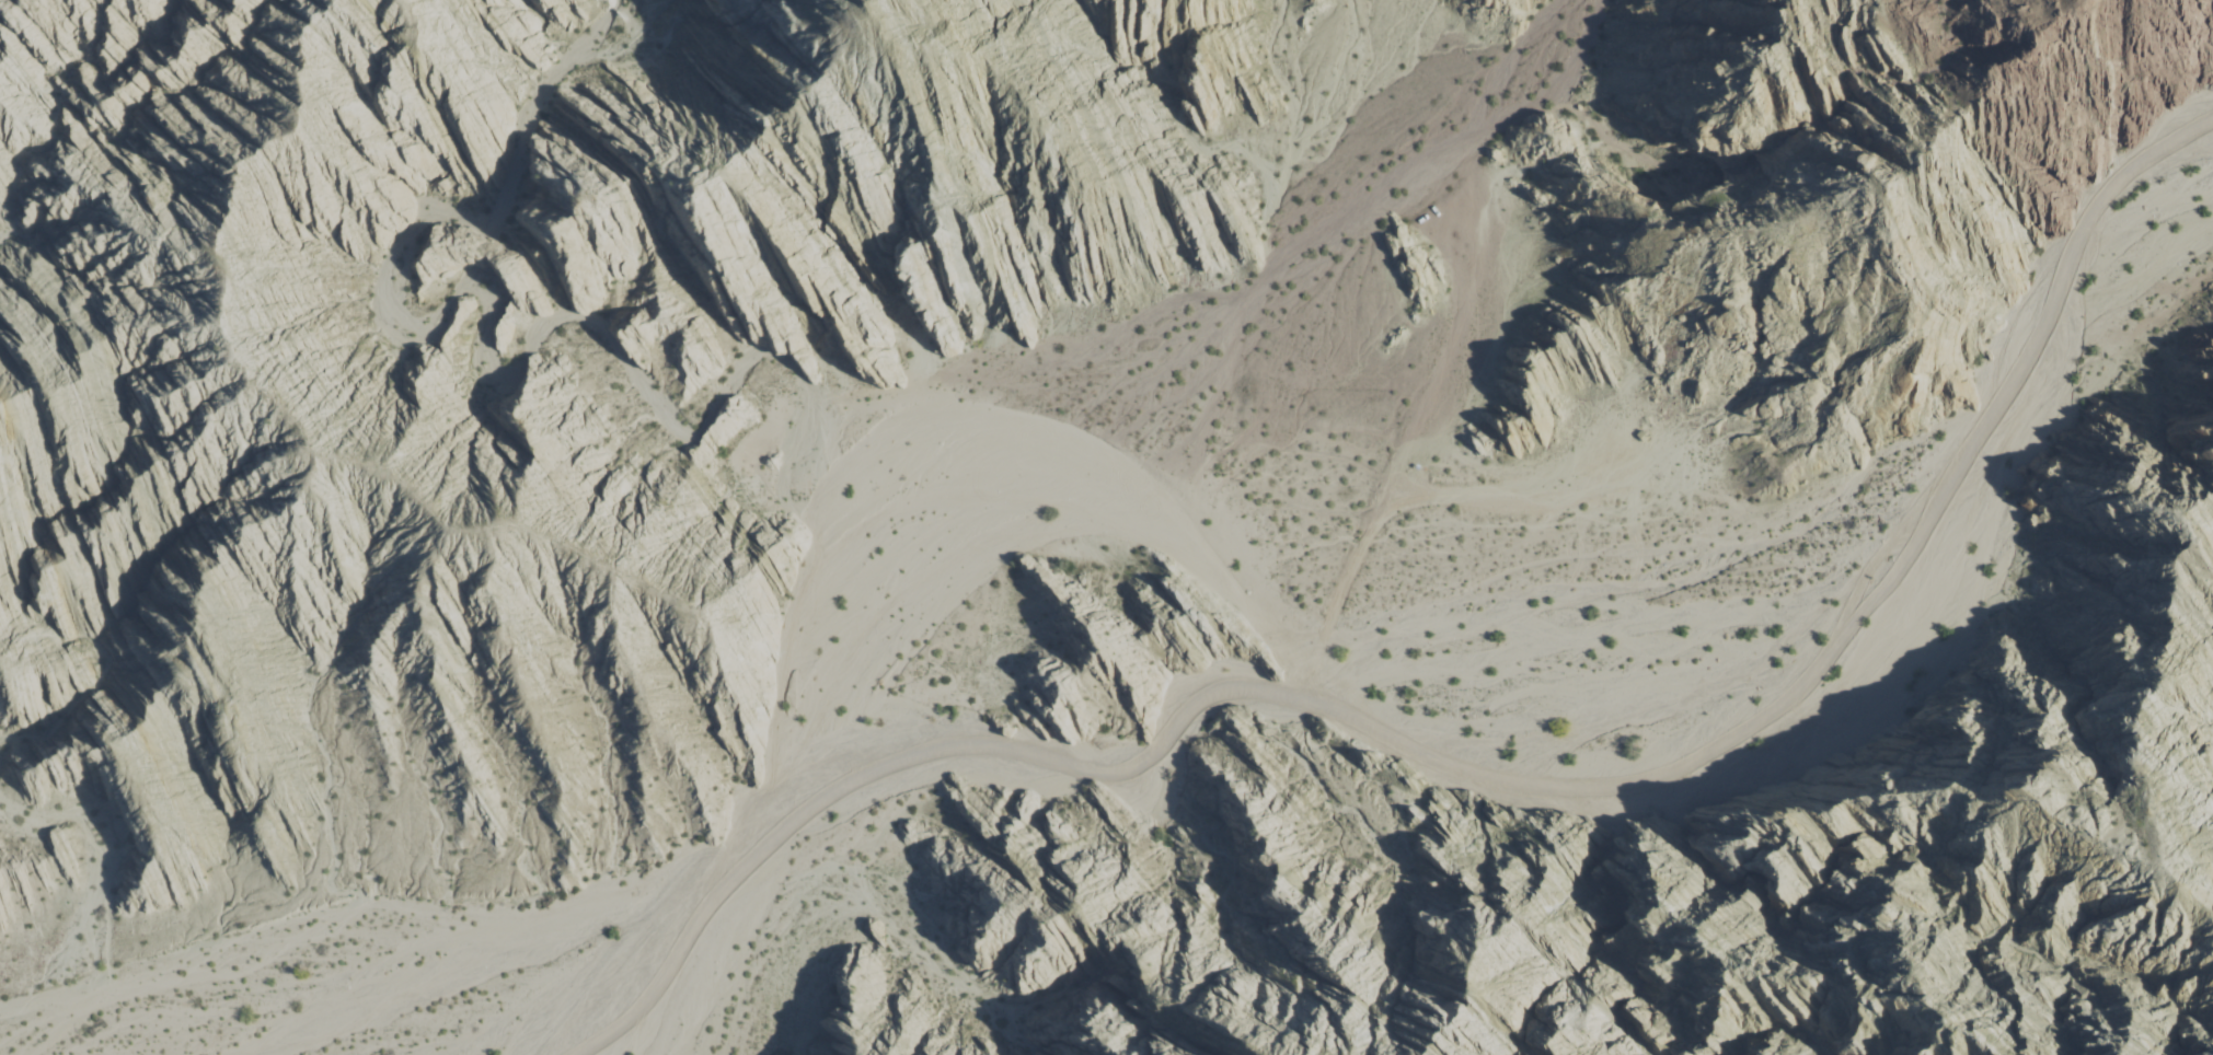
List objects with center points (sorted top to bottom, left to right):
road: (1275, 686)

